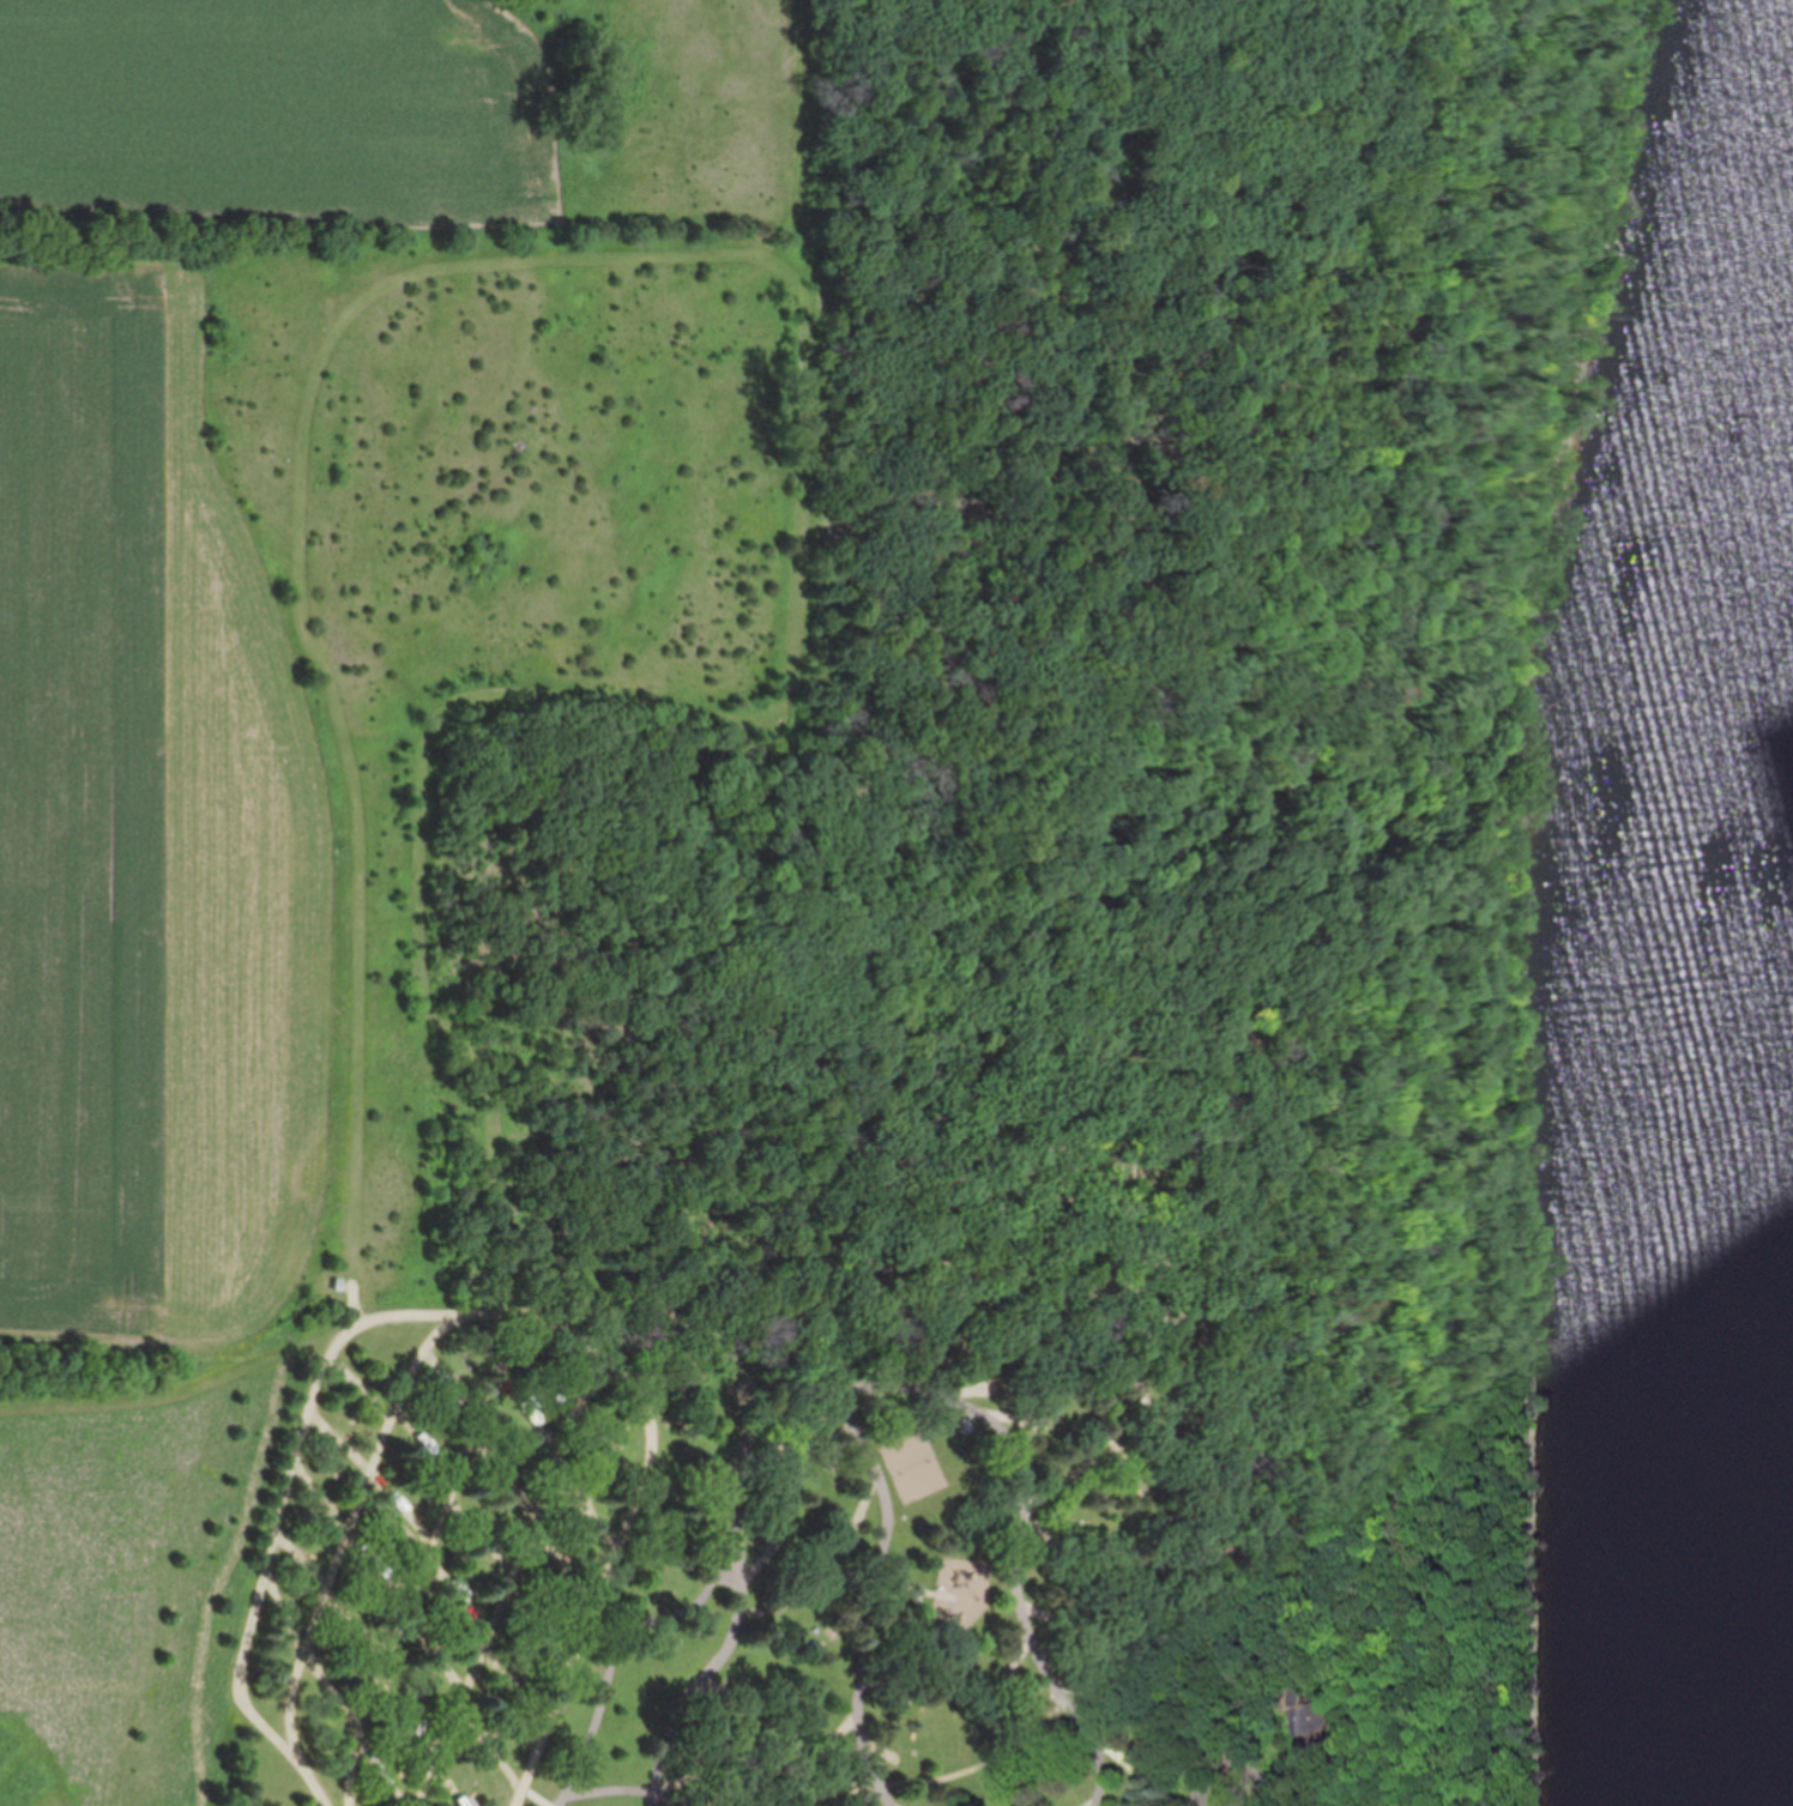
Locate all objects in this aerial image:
park: (769, 894)
road: (481, 1324)
road: (875, 1385)
road: (871, 1591)
building: (707, 1615)
road: (246, 1673)
building: (1305, 1716)
road: (1238, 1774)

